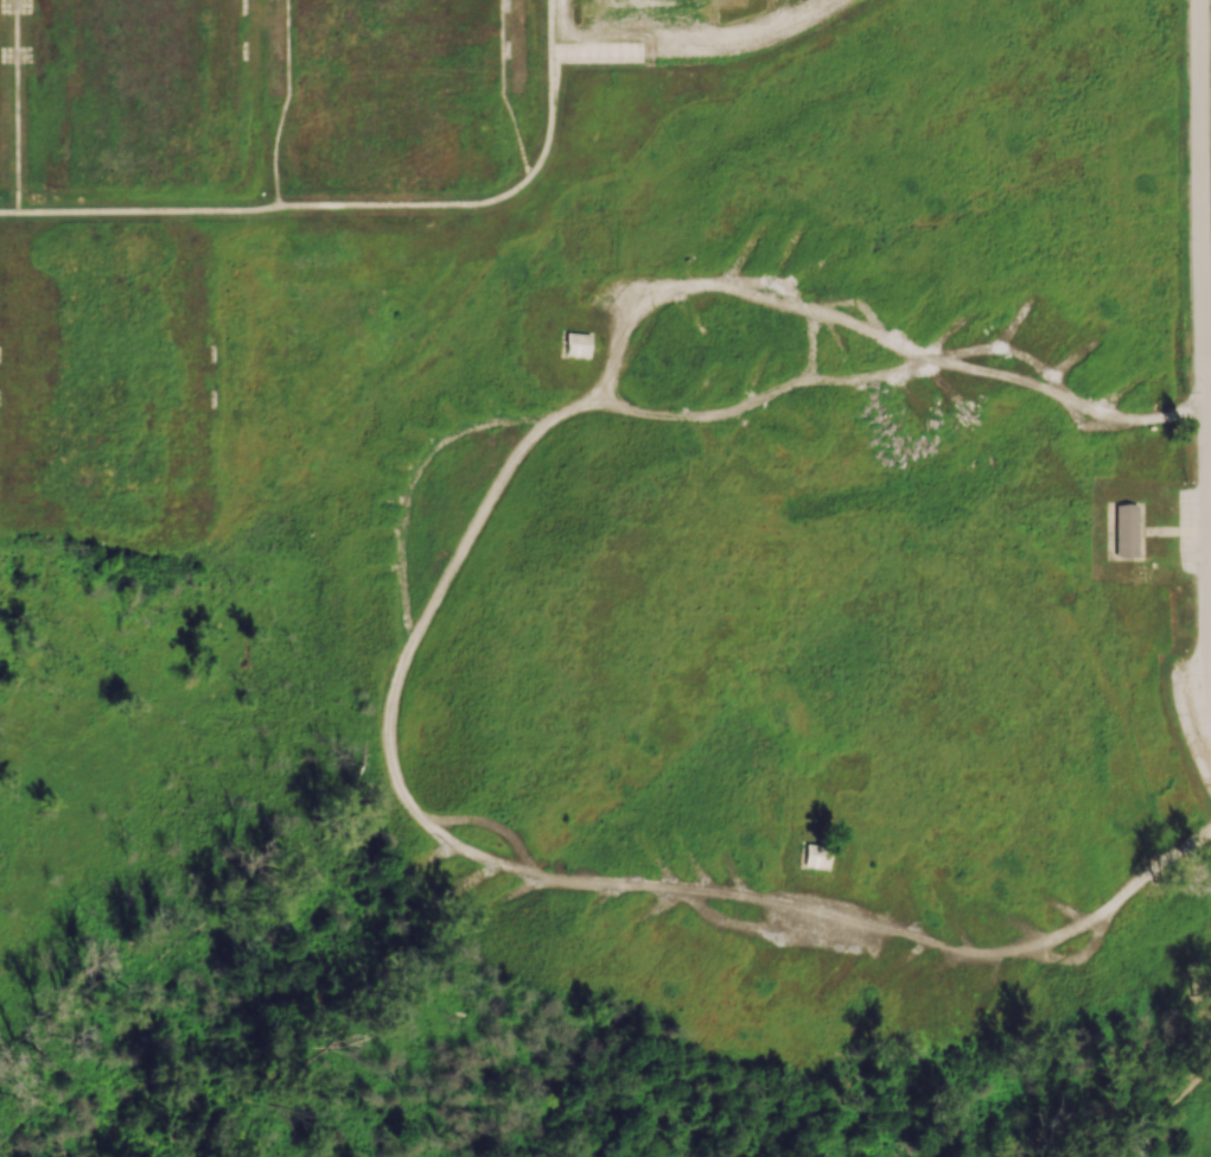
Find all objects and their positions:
road: (561, 21)
parking lot: (697, 26)
road: (772, 26)
road: (639, 43)
road: (548, 62)
road: (555, 83)
park: (394, 87)
park: (135, 89)
road: (502, 90)
road: (283, 104)
road: (15, 107)
road: (543, 153)
road: (406, 205)
road: (146, 212)
road: (8, 214)
road: (1202, 337)
building: (574, 345)
park: (103, 379)
road: (1207, 417)
road: (1209, 483)
building: (1123, 532)
road: (1158, 532)
parking lot: (1192, 533)
park: (605, 578)
road: (1210, 584)
road: (1210, 654)
building: (815, 859)
road: (1165, 1115)

